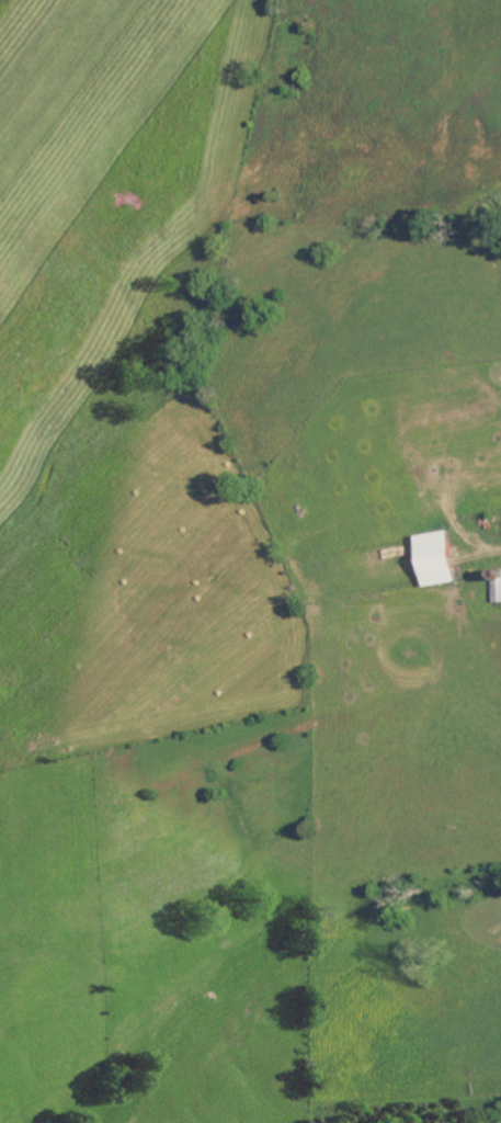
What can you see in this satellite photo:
building: (440, 558)

